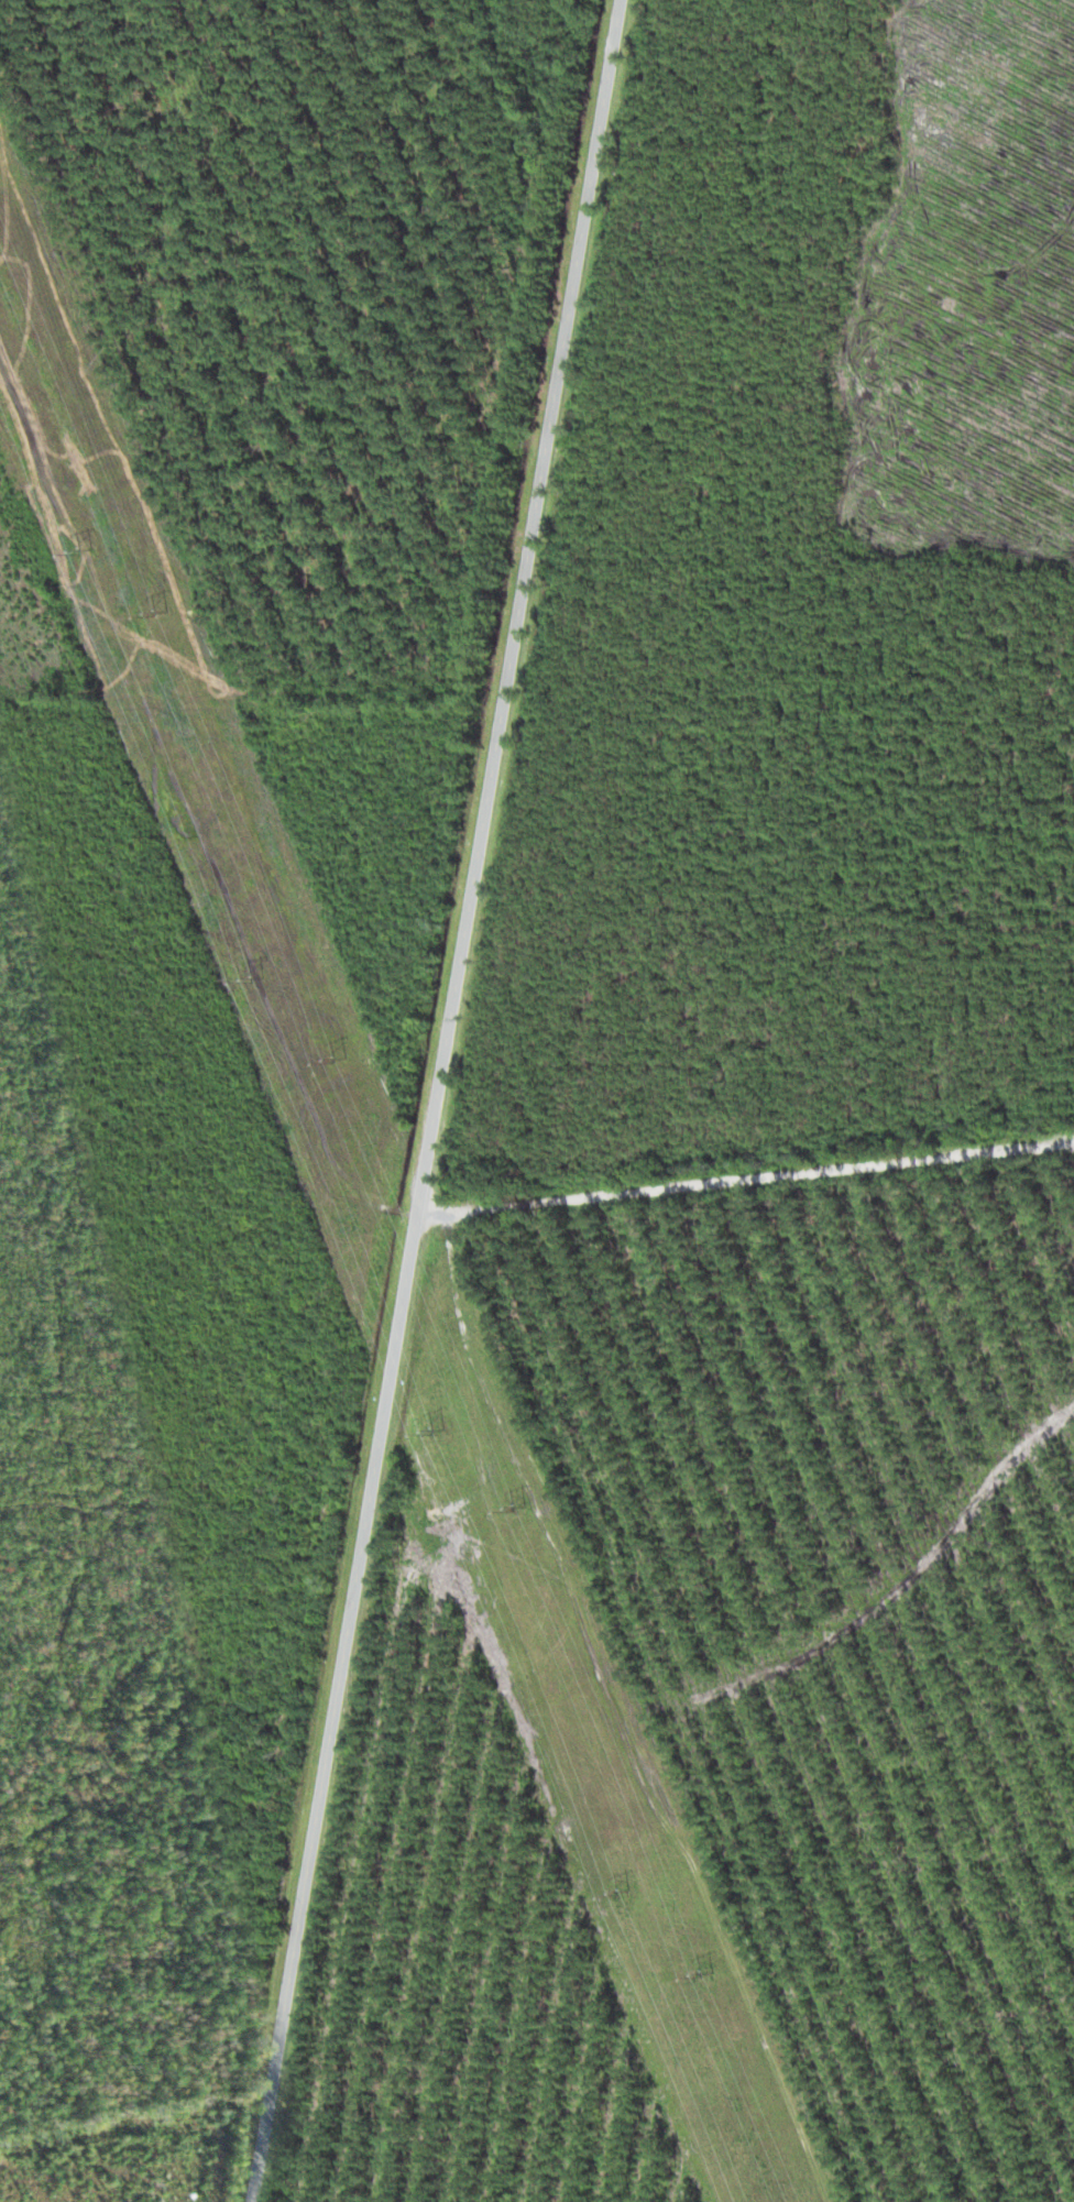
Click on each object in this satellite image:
power tower: (84, 550)
power tower: (162, 612)
power tower: (257, 977)
power tower: (342, 1060)
road: (436, 1100)
road: (747, 1193)
power tower: (437, 1429)
power tower: (520, 1510)
power tower: (624, 1892)
power tower: (709, 1972)

